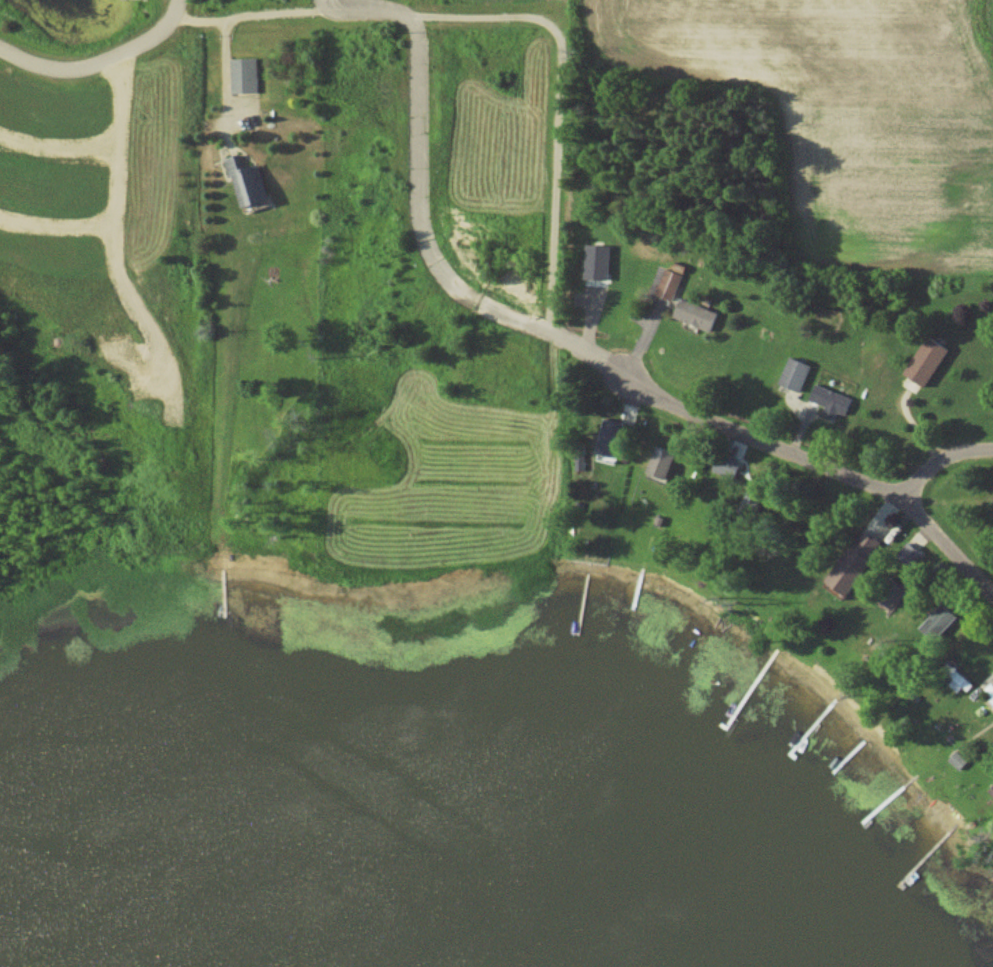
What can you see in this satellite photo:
road: (254, 16)
road: (103, 69)
building: (245, 75)
road: (224, 77)
road: (552, 111)
building: (249, 182)
building: (599, 262)
building: (669, 283)
building: (698, 315)
road: (571, 349)
building: (931, 361)
building: (797, 373)
building: (833, 401)
building: (613, 443)
road: (941, 459)
building: (667, 462)
building: (913, 552)
building: (860, 565)
building: (942, 622)

